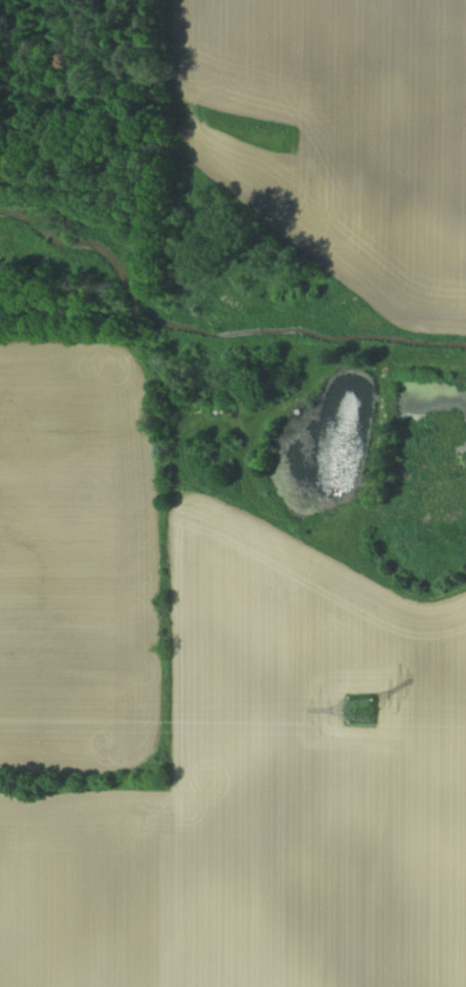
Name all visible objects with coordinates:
power tower: (358, 710)

